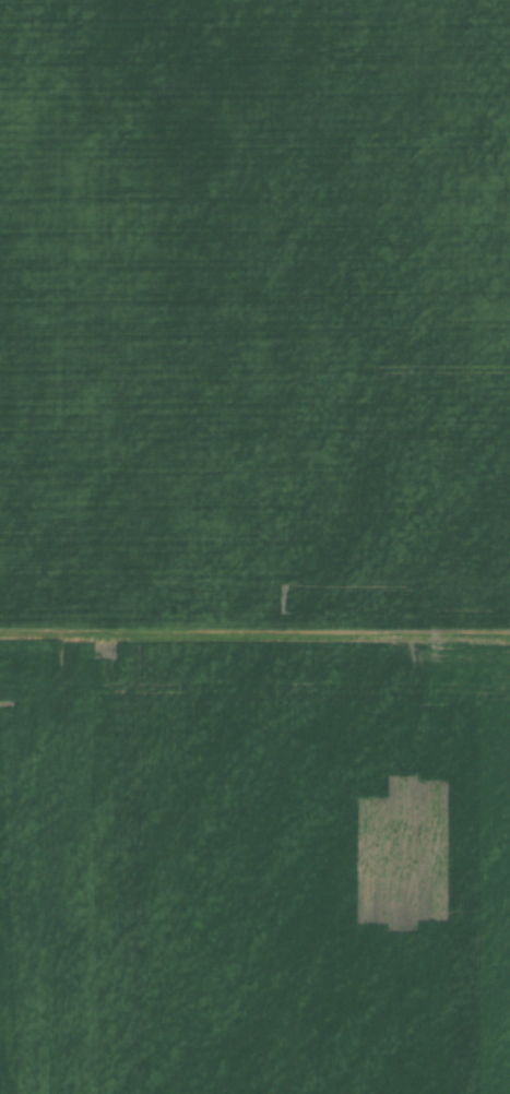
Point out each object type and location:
road: (254, 628)

